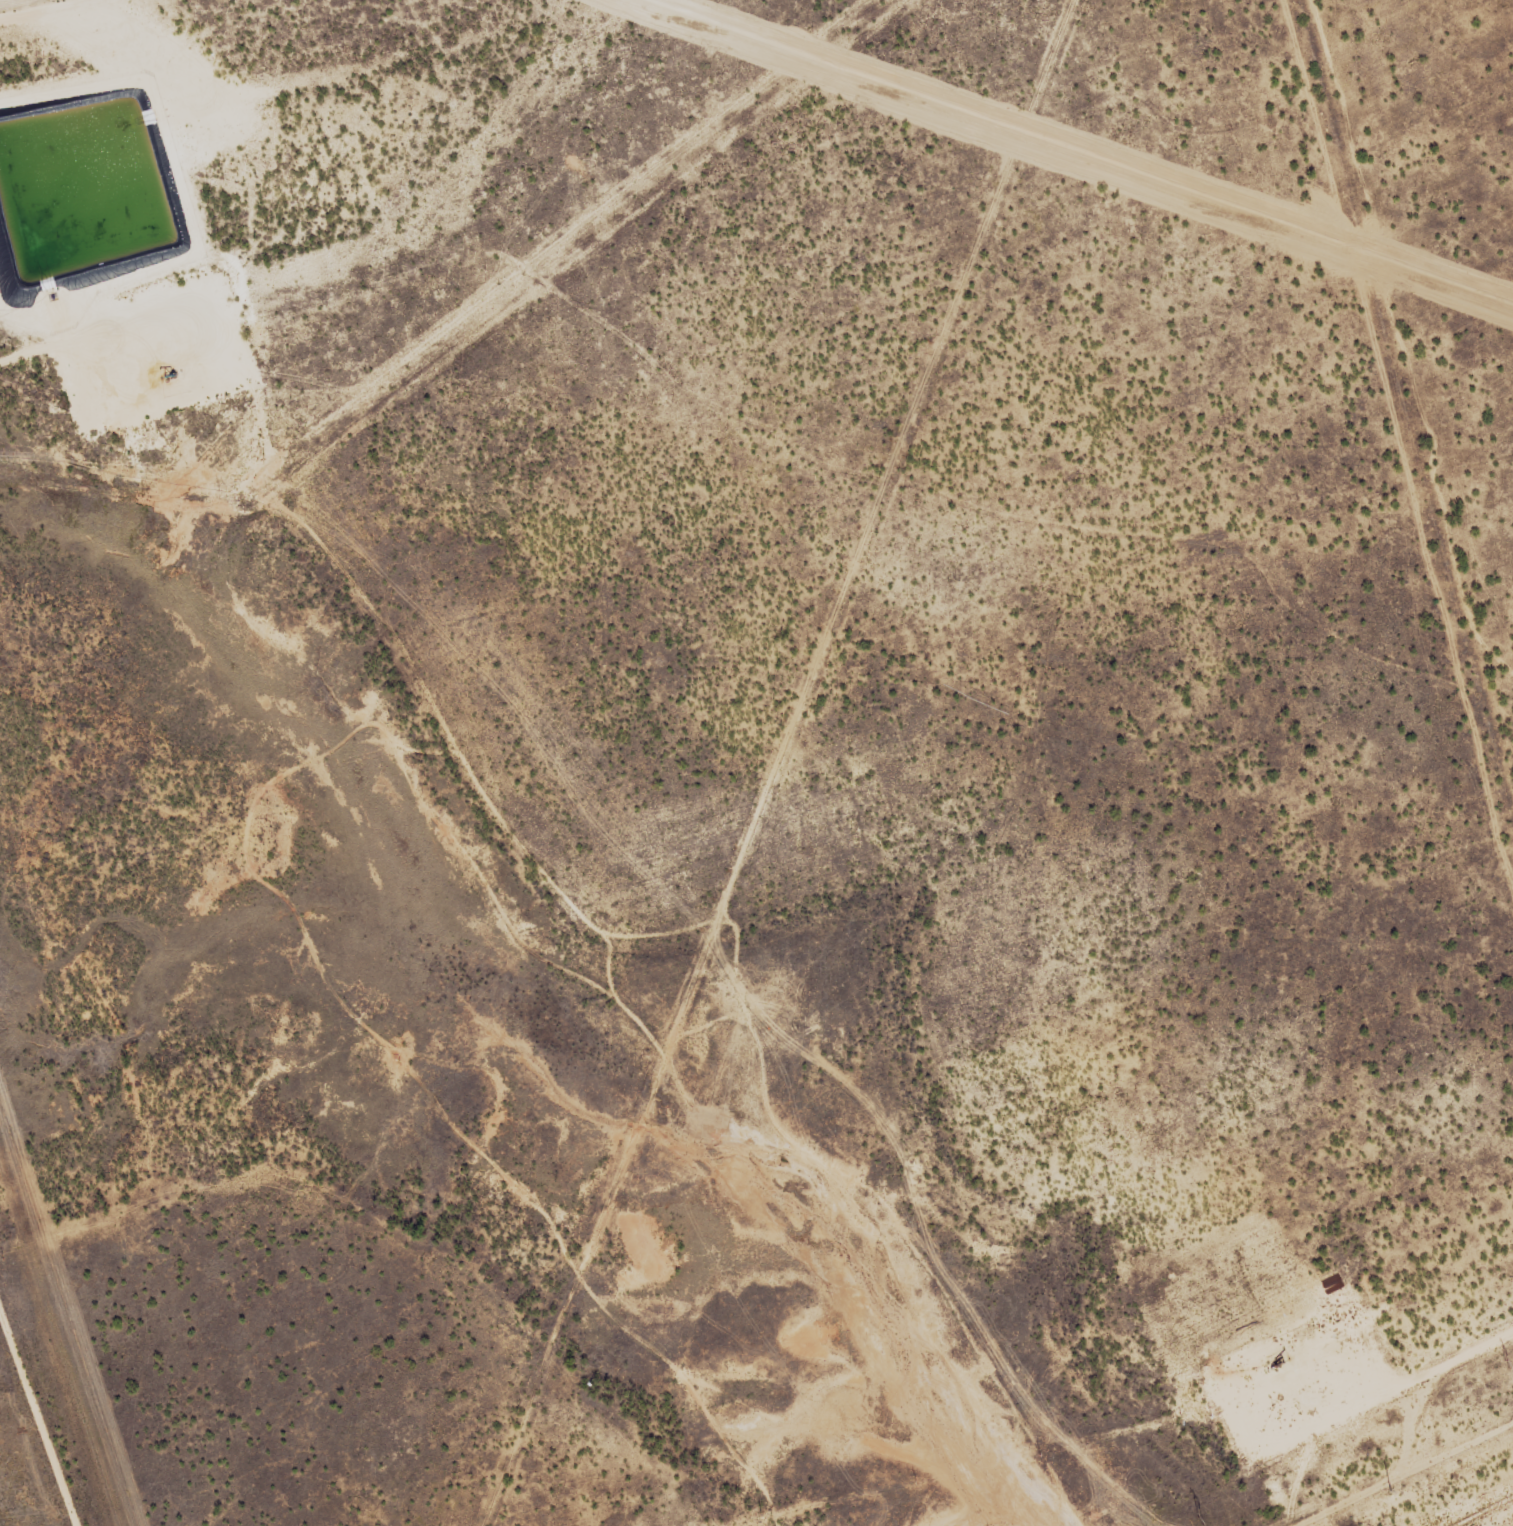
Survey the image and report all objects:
power tower: (1507, 1361)
power tower: (1392, 1489)
power tower: (1202, 1519)

